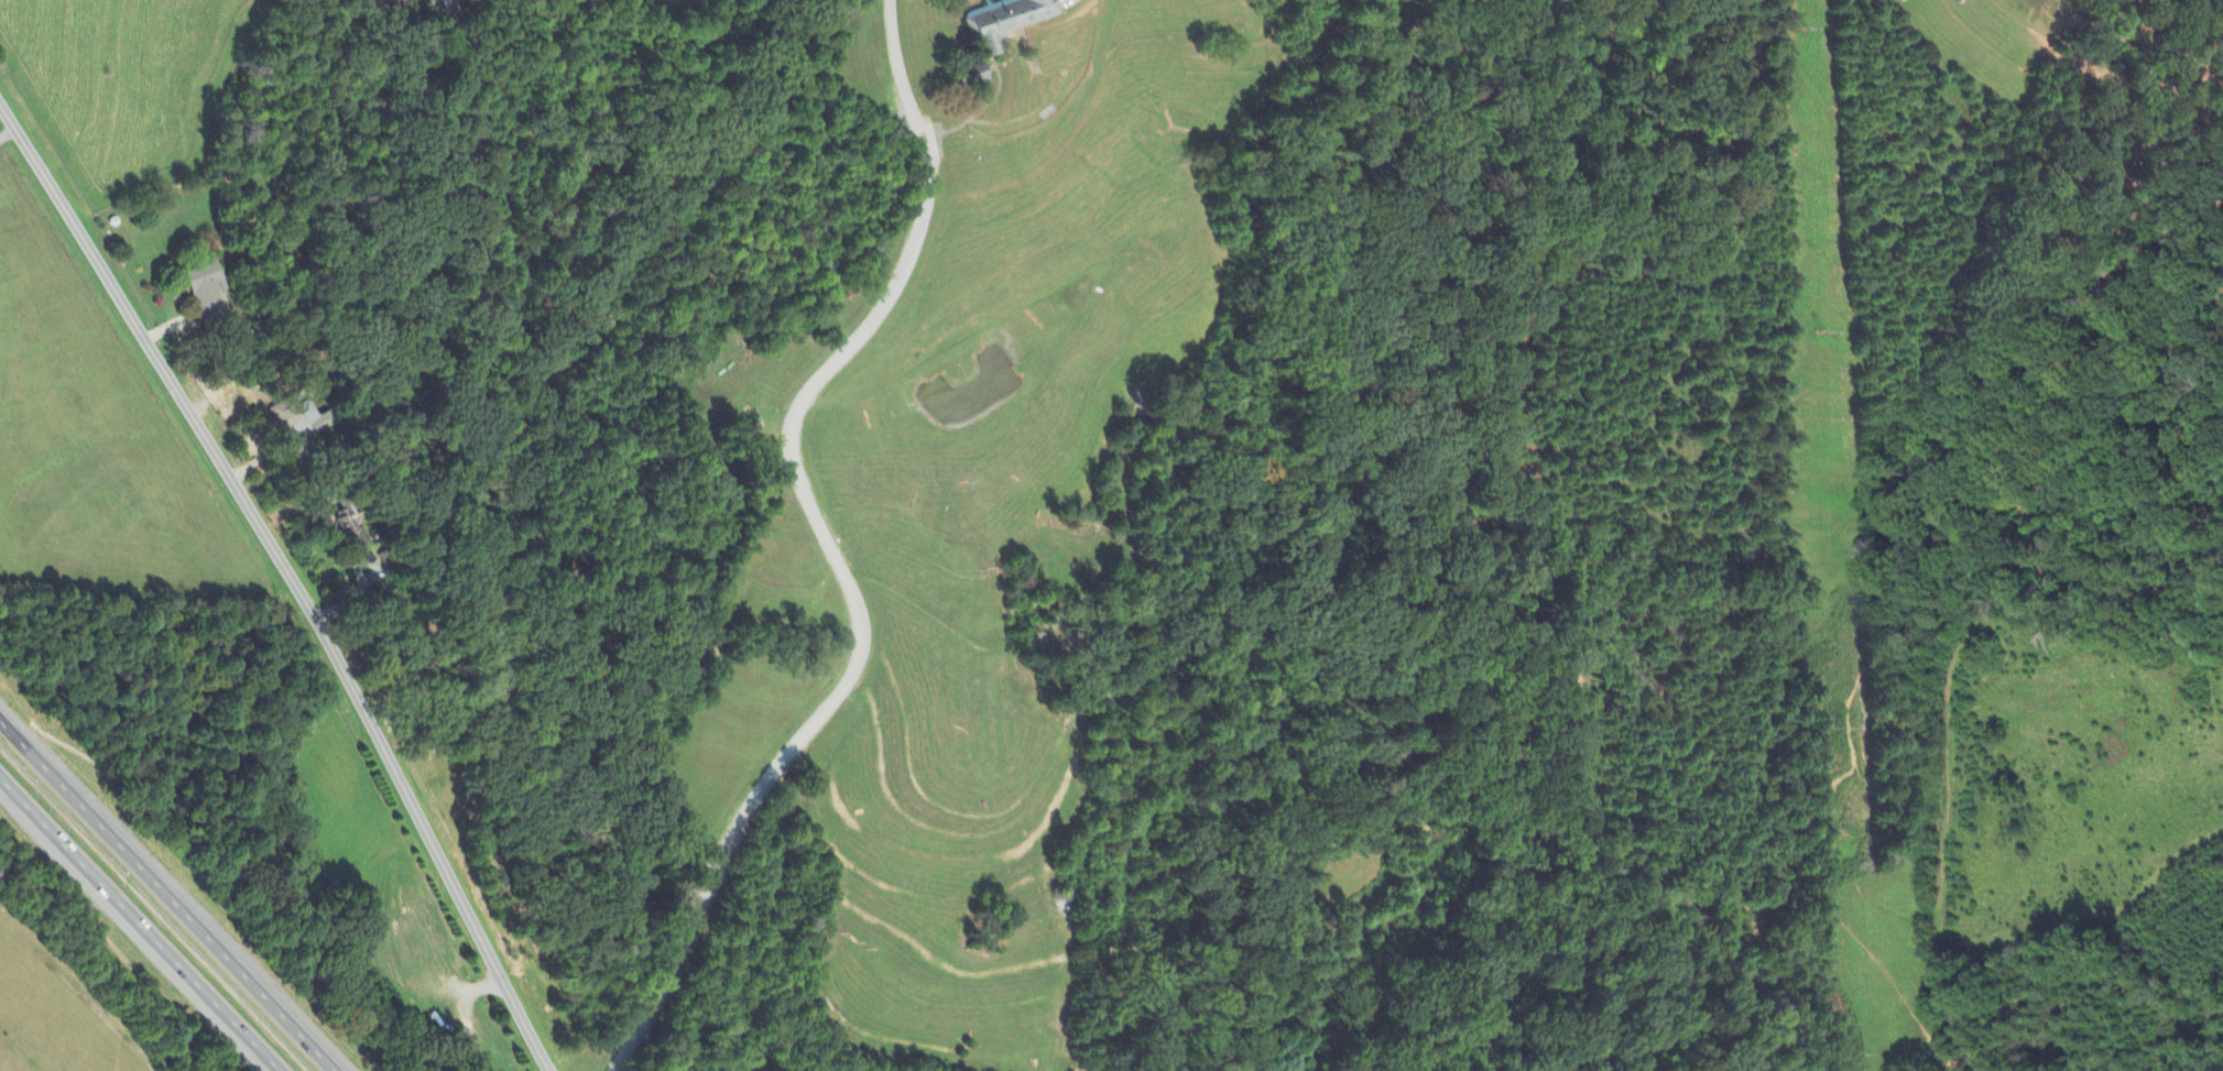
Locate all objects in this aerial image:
road: (830, 545)
road: (292, 581)
road: (167, 894)
road: (137, 927)

